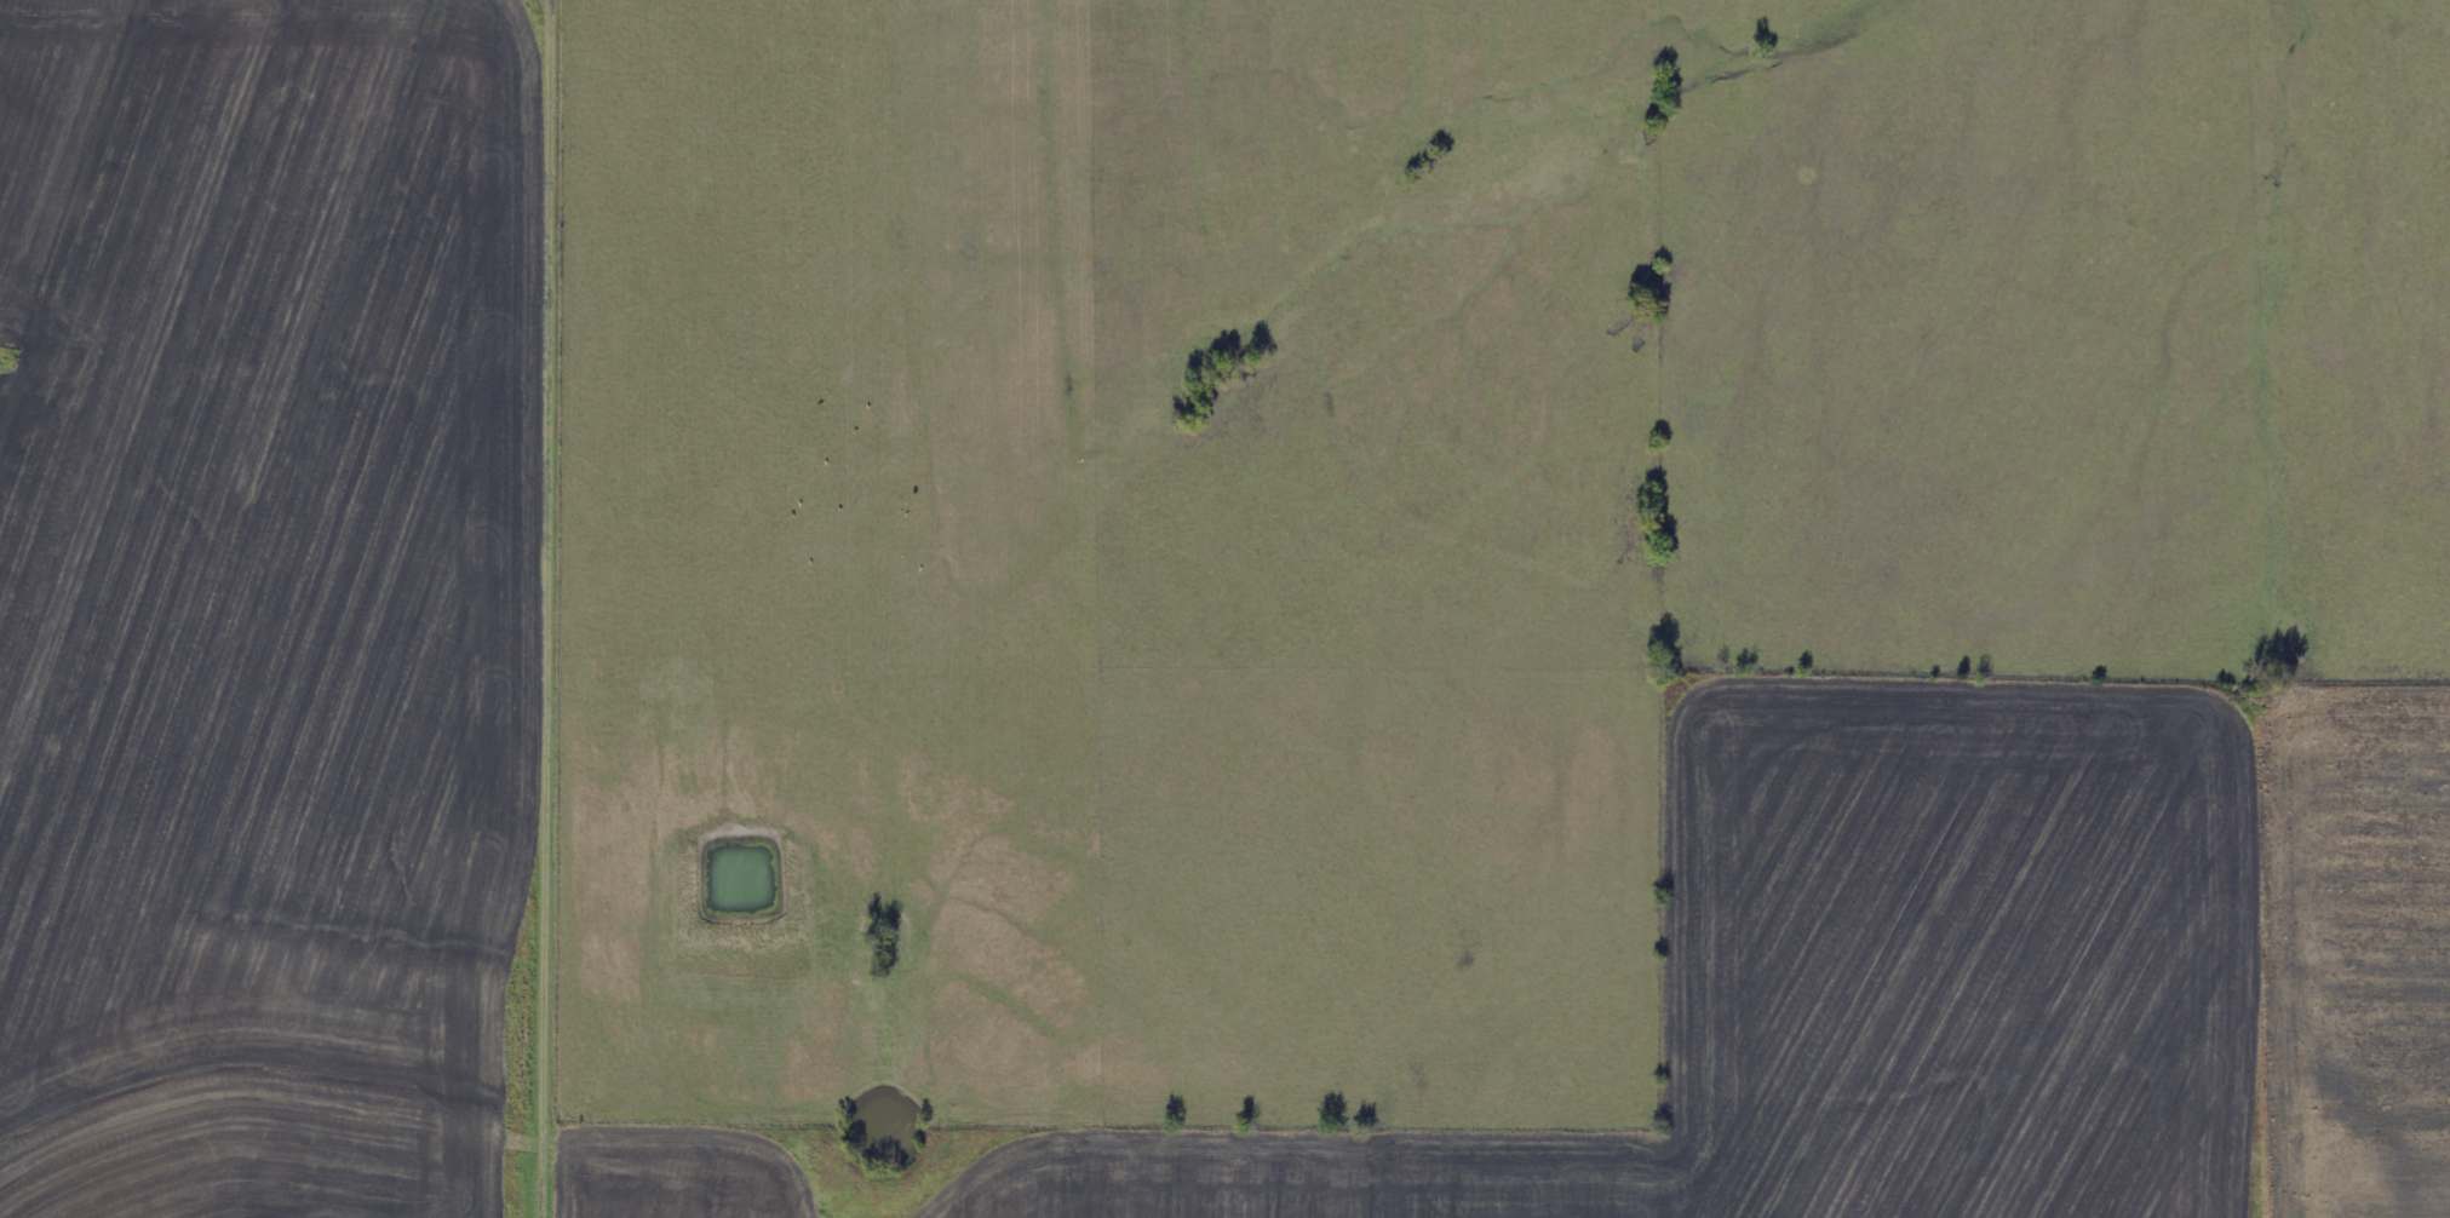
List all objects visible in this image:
road: (557, 608)

